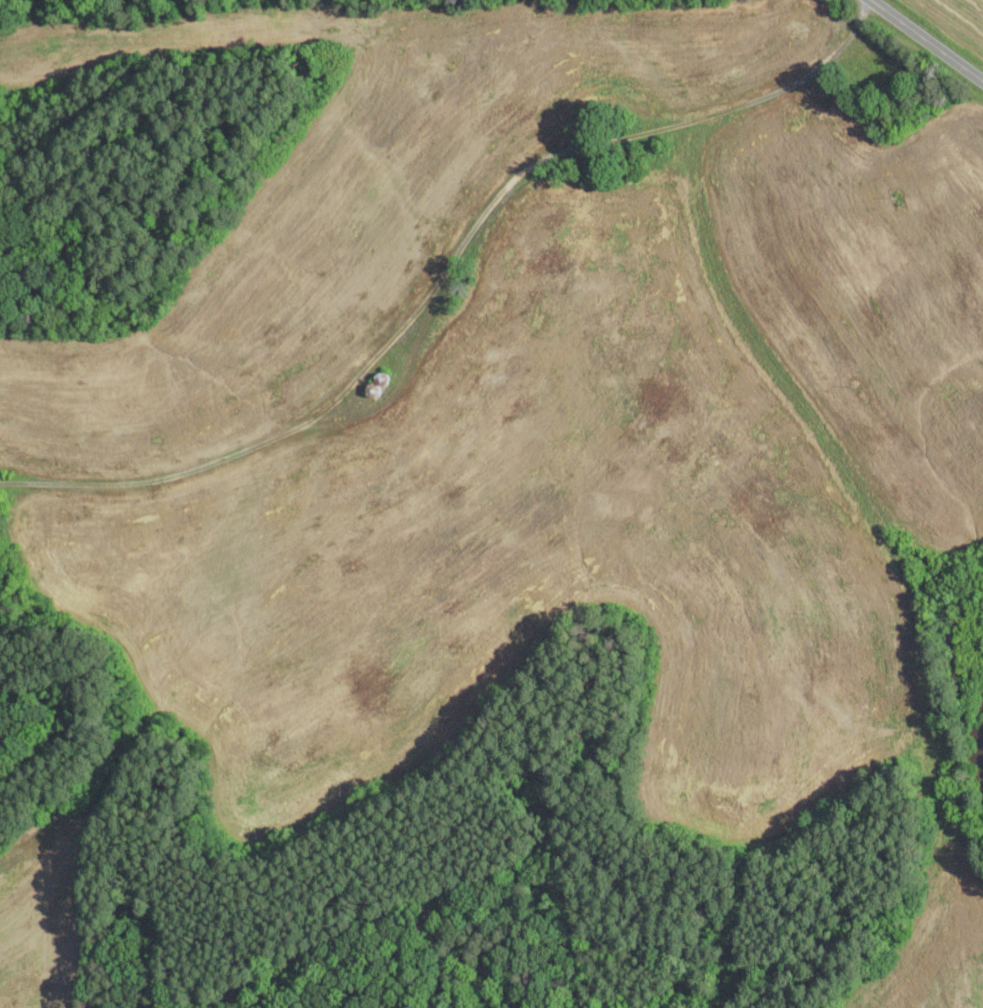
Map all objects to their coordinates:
road: (926, 39)
road: (447, 271)

